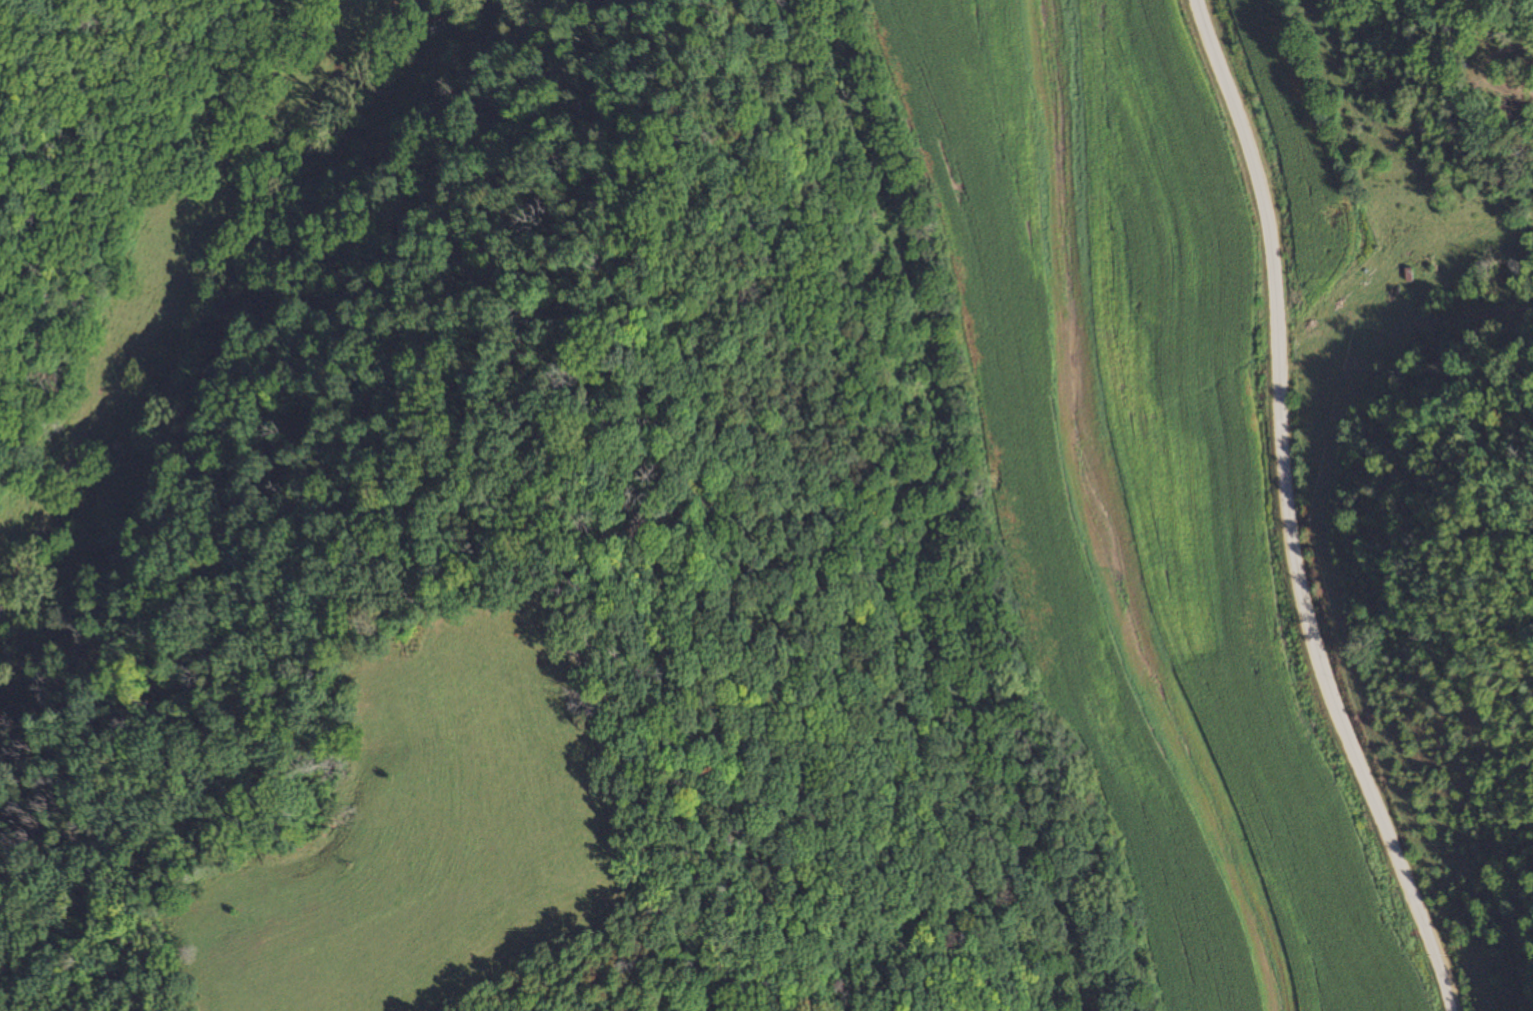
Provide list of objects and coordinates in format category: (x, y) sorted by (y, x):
road: (1265, 516)

